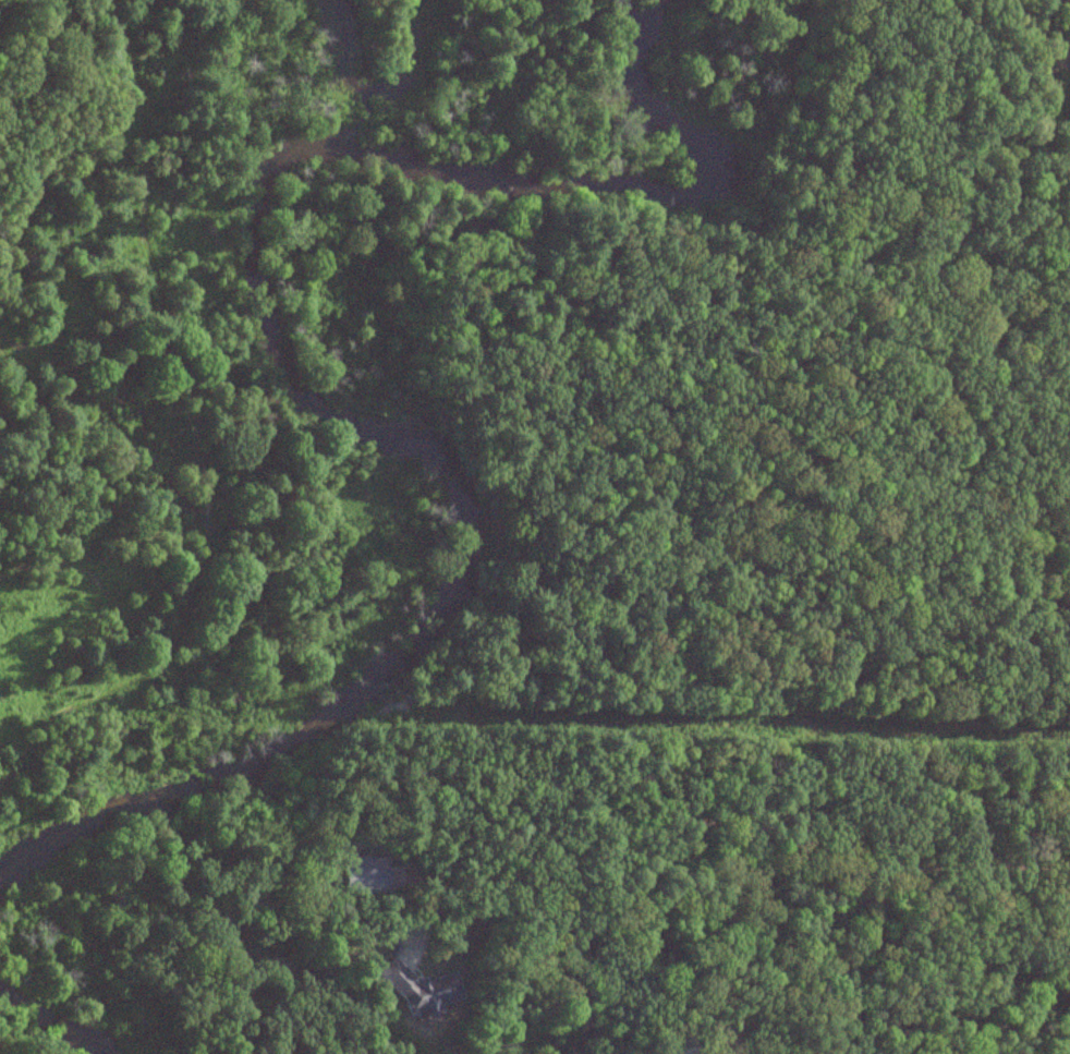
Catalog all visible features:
river: (284, 364)
road: (722, 814)
building: (418, 991)
river: (42, 1022)

